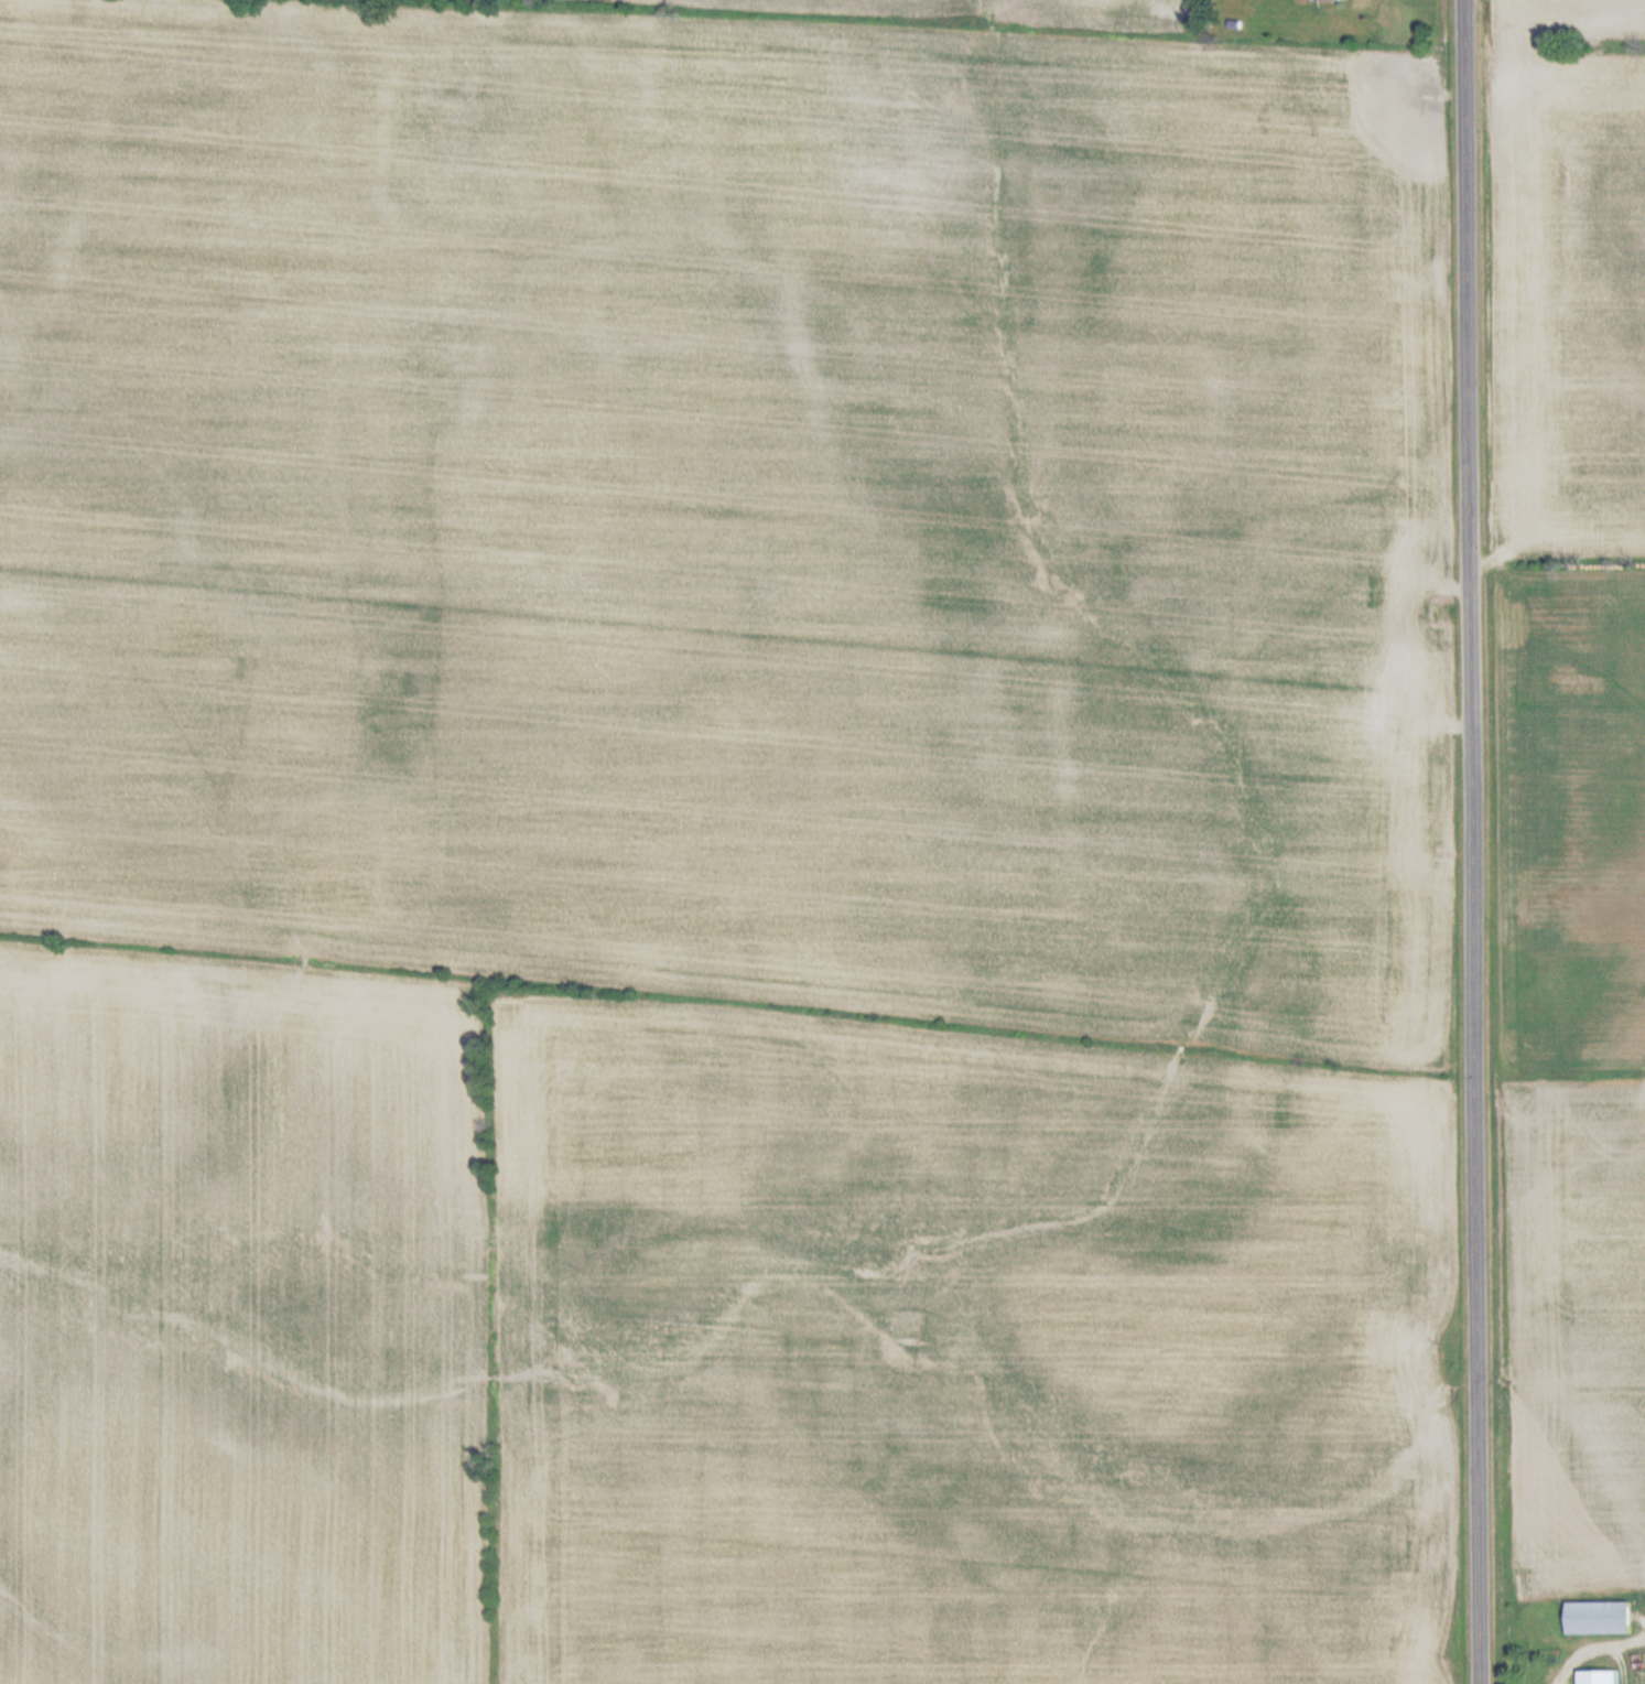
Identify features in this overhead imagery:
building: (1327, 0)
road: (1471, 842)
building: (1599, 1619)
building: (1599, 1678)

